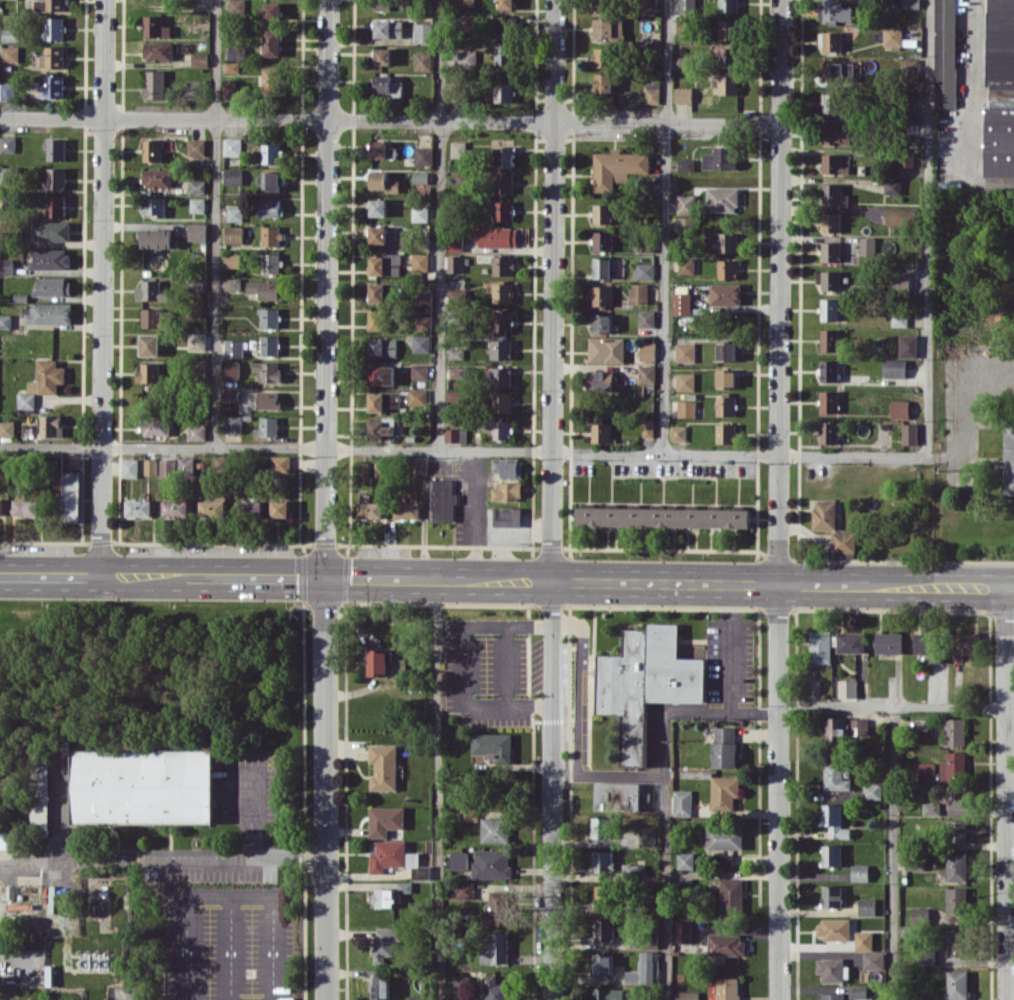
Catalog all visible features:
building: (466, 2)
building: (649, 3)
building: (51, 4)
building: (388, 4)
building: (506, 4)
building: (237, 5)
building: (603, 5)
building: (729, 5)
building: (687, 6)
building: (273, 10)
building: (837, 11)
building: (683, 26)
building: (156, 27)
building: (507, 27)
building: (55, 28)
building: (388, 28)
building: (609, 28)
building: (729, 29)
building: (423, 32)
building: (893, 35)
building: (831, 41)
building: (272, 42)
building: (158, 51)
building: (945, 53)
building: (10, 54)
building: (504, 54)
building: (383, 56)
building: (54, 57)
building: (602, 57)
building: (728, 57)
building: (466, 58)
building: (199, 59)
building: (423, 61)
building: (684, 62)
building: (232, 67)
building: (910, 70)
building: (838, 72)
building: (269, 79)
building: (604, 83)
building: (155, 84)
building: (382, 84)
building: (728, 84)
building: (49, 87)
building: (229, 88)
building: (194, 89)
road: (974, 89)
building: (1000, 90)
building: (7, 91)
building: (504, 92)
building: (652, 92)
building: (684, 95)
building: (832, 103)
road: (390, 120)
building: (836, 134)
building: (8, 143)
building: (232, 146)
building: (196, 147)
building: (155, 148)
building: (56, 149)
building: (379, 149)
building: (458, 149)
building: (272, 153)
building: (424, 155)
building: (504, 156)
building: (720, 158)
building: (903, 160)
building: (686, 164)
building: (617, 167)
building: (233, 176)
building: (420, 177)
building: (157, 178)
building: (56, 179)
building: (270, 181)
building: (383, 181)
building: (502, 183)
building: (197, 186)
building: (893, 186)
building: (834, 194)
building: (722, 199)
building: (686, 203)
building: (197, 204)
building: (56, 206)
building: (154, 206)
building: (378, 207)
building: (271, 208)
building: (503, 210)
building: (235, 213)
building: (420, 213)
building: (603, 213)
building: (899, 216)
building: (831, 222)
road: (216, 223)
building: (685, 224)
road: (440, 225)
road: (666, 226)
road: (928, 229)
building: (51, 231)
building: (197, 231)
building: (233, 234)
building: (378, 234)
building: (271, 235)
building: (497, 236)
building: (156, 238)
building: (603, 240)
building: (724, 240)
building: (454, 243)
building: (867, 246)
building: (831, 251)
building: (51, 258)
building: (232, 260)
building: (420, 262)
building: (271, 263)
building: (455, 263)
building: (385, 264)
building: (686, 264)
building: (502, 265)
building: (6, 266)
building: (603, 268)
building: (727, 269)
building: (644, 271)
building: (829, 280)
building: (901, 282)
building: (232, 284)
building: (53, 286)
road: (102, 287)
building: (266, 289)
building: (151, 291)
road: (778, 291)
building: (377, 292)
building: (503, 293)
building: (638, 293)
building: (726, 294)
building: (424, 295)
building: (602, 295)
building: (682, 303)
building: (830, 309)
building: (50, 313)
building: (154, 318)
building: (270, 318)
building: (377, 319)
building: (646, 319)
building: (899, 319)
building: (5, 321)
building: (502, 321)
building: (423, 323)
building: (602, 323)
building: (830, 339)
building: (197, 341)
building: (422, 343)
building: (150, 344)
building: (269, 345)
building: (908, 345)
building: (383, 347)
building: (234, 348)
building: (502, 349)
building: (606, 349)
building: (648, 350)
building: (727, 351)
building: (685, 352)
building: (894, 368)
building: (231, 369)
building: (829, 370)
building: (269, 371)
building: (420, 371)
building: (149, 372)
building: (458, 372)
building: (647, 374)
building: (382, 375)
building: (501, 376)
building: (47, 377)
building: (727, 379)
building: (601, 380)
building: (685, 381)
building: (230, 394)
building: (417, 396)
building: (264, 400)
building: (26, 401)
building: (383, 401)
building: (829, 401)
building: (501, 402)
building: (726, 405)
road: (963, 406)
building: (686, 408)
building: (900, 409)
building: (233, 424)
building: (51, 425)
building: (156, 426)
building: (269, 426)
building: (7, 428)
building: (499, 428)
building: (648, 428)
building: (381, 429)
building: (197, 431)
building: (601, 432)
building: (829, 432)
building: (679, 433)
building: (726, 433)
building: (910, 433)
building: (456, 435)
road: (463, 451)
building: (1008, 459)
building: (280, 463)
building: (185, 465)
building: (150, 466)
building: (420, 466)
building: (130, 467)
building: (167, 467)
building: (508, 467)
building: (381, 470)
building: (507, 491)
parking lot: (464, 493)
building: (71, 495)
road: (475, 498)
road: (324, 499)
building: (441, 500)
road: (551, 500)
building: (27, 507)
building: (139, 507)
building: (1, 508)
building: (176, 508)
building: (212, 508)
building: (250, 508)
building: (280, 508)
building: (371, 509)
building: (408, 510)
building: (824, 514)
building: (507, 516)
building: (663, 517)
road: (523, 535)
building: (843, 541)
road: (495, 547)
road: (551, 547)
traffic signals: (324, 577)
road: (506, 580)
road: (593, 606)
building: (851, 642)
building: (889, 642)
building: (966, 643)
building: (928, 644)
building: (820, 646)
road: (731, 648)
road: (528, 658)
building: (377, 662)
road: (461, 664)
road: (506, 664)
parking lot: (535, 664)
parking lot: (483, 675)
building: (643, 682)
road: (578, 688)
building: (847, 688)
road: (568, 690)
road: (592, 691)
road: (891, 706)
building: (843, 729)
building: (956, 732)
road: (665, 744)
building: (493, 745)
building: (725, 747)
building: (383, 766)
building: (954, 766)
building: (926, 770)
building: (835, 777)
building: (140, 786)
parking lot: (244, 787)
road: (438, 789)
road: (777, 791)
building: (872, 791)
building: (724, 793)
road: (1006, 793)
building: (617, 795)
building: (958, 797)
building: (682, 802)
road: (248, 804)
road: (55, 808)
building: (931, 808)
building: (469, 814)
building: (385, 820)
building: (834, 820)
building: (601, 827)
building: (494, 829)
building: (957, 830)
building: (648, 836)
building: (725, 837)
building: (5, 839)
road: (169, 839)
road: (894, 853)
building: (391, 855)
building: (831, 855)
road: (163, 857)
building: (458, 860)
building: (685, 860)
building: (603, 861)
building: (491, 863)
building: (956, 866)
building: (634, 870)
building: (860, 872)
parking lot: (203, 873)
building: (404, 886)
road: (665, 888)
building: (464, 890)
building: (603, 895)
building: (831, 896)
building: (385, 897)
building: (731, 897)
building: (957, 901)
road: (272, 904)
building: (866, 906)
building: (497, 908)
building: (921, 915)
building: (834, 928)
building: (604, 929)
building: (683, 931)
building: (863, 940)
building: (386, 942)
building: (956, 942)
parking lot: (228, 943)
building: (726, 944)
road: (186, 947)
road: (230, 947)
building: (496, 949)
building: (927, 958)
building: (873, 960)
building: (602, 964)
building: (644, 968)
building: (833, 969)
building: (461, 983)
building: (380, 985)
building: (957, 985)
building: (728, 988)
building: (496, 989)
building: (858, 991)
building: (607, 994)
building: (687, 995)
building: (833, 996)
building: (415, 997)

